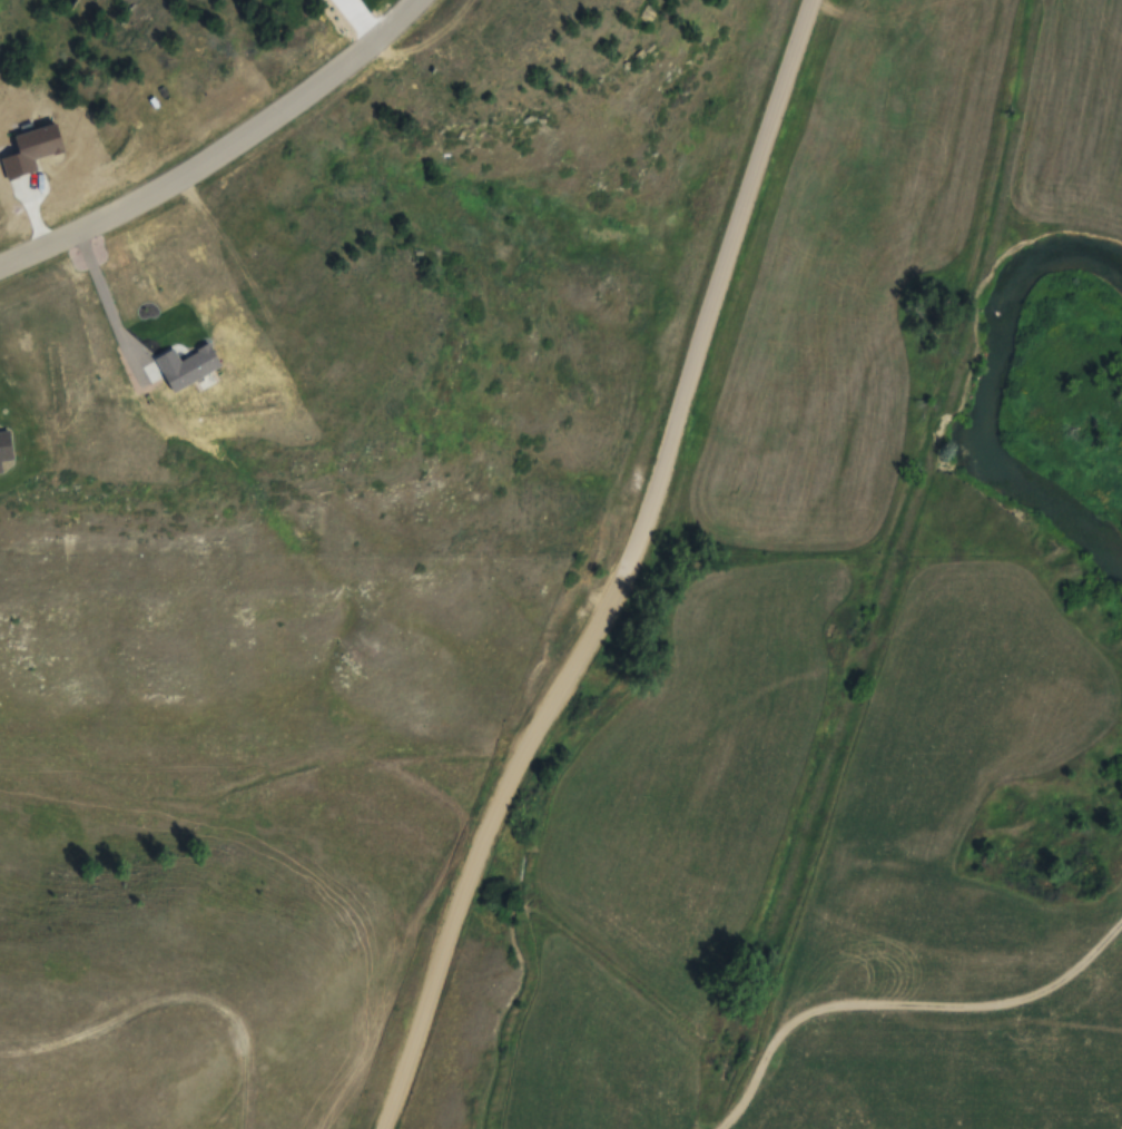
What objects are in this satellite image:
road: (223, 154)
road: (720, 277)
river: (975, 383)
road: (488, 835)

